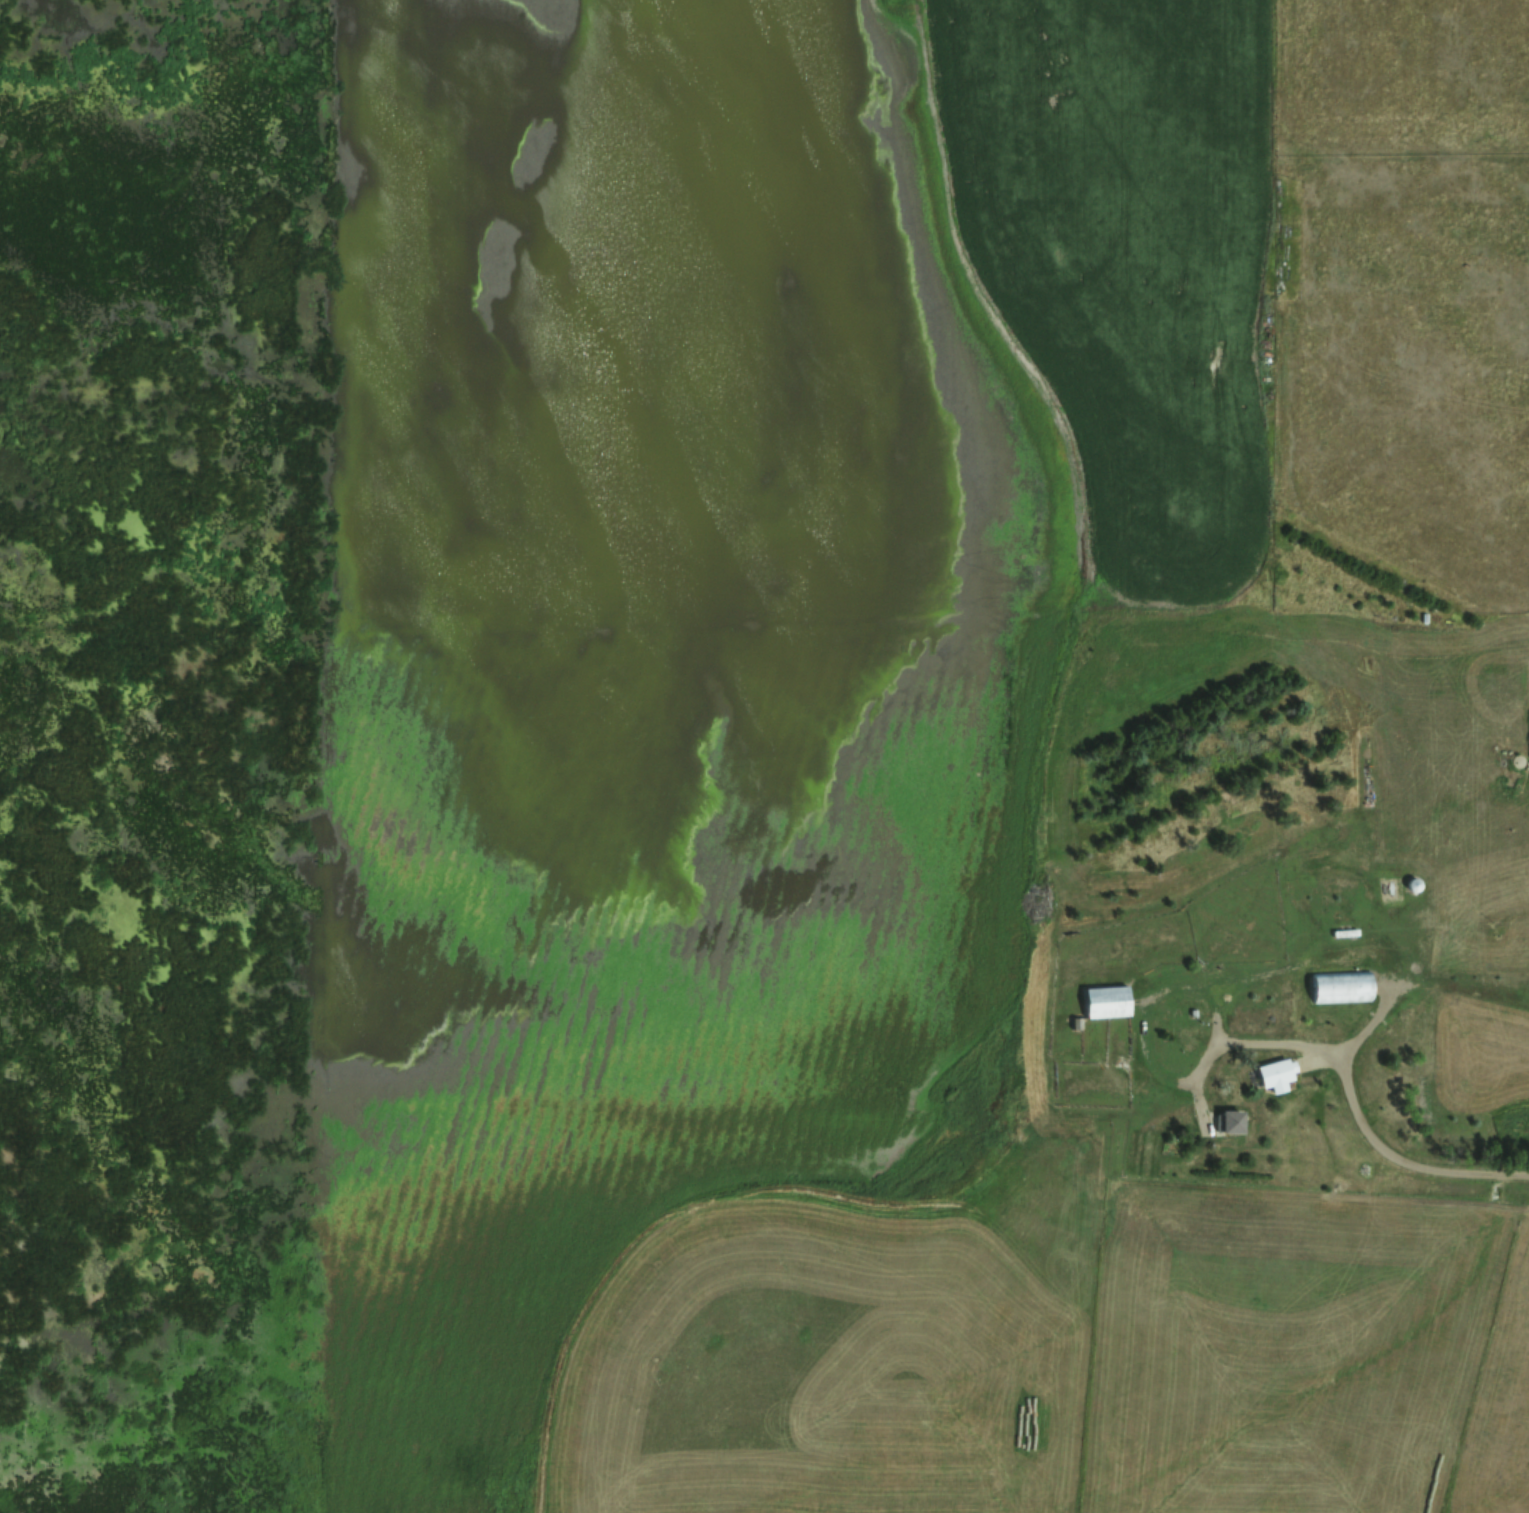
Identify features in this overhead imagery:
building: (1341, 987)
building: (1108, 1000)
building: (1278, 1073)
building: (1233, 1122)
road: (1429, 1200)

